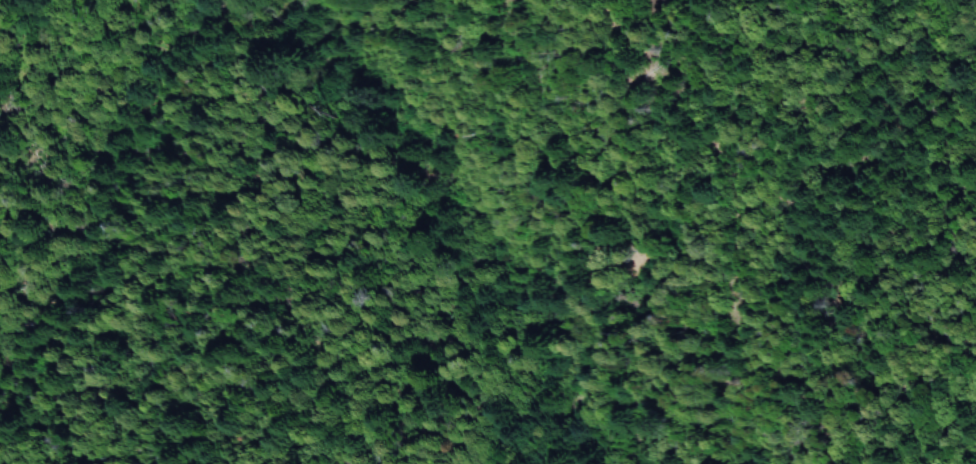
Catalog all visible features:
road: (734, 394)

